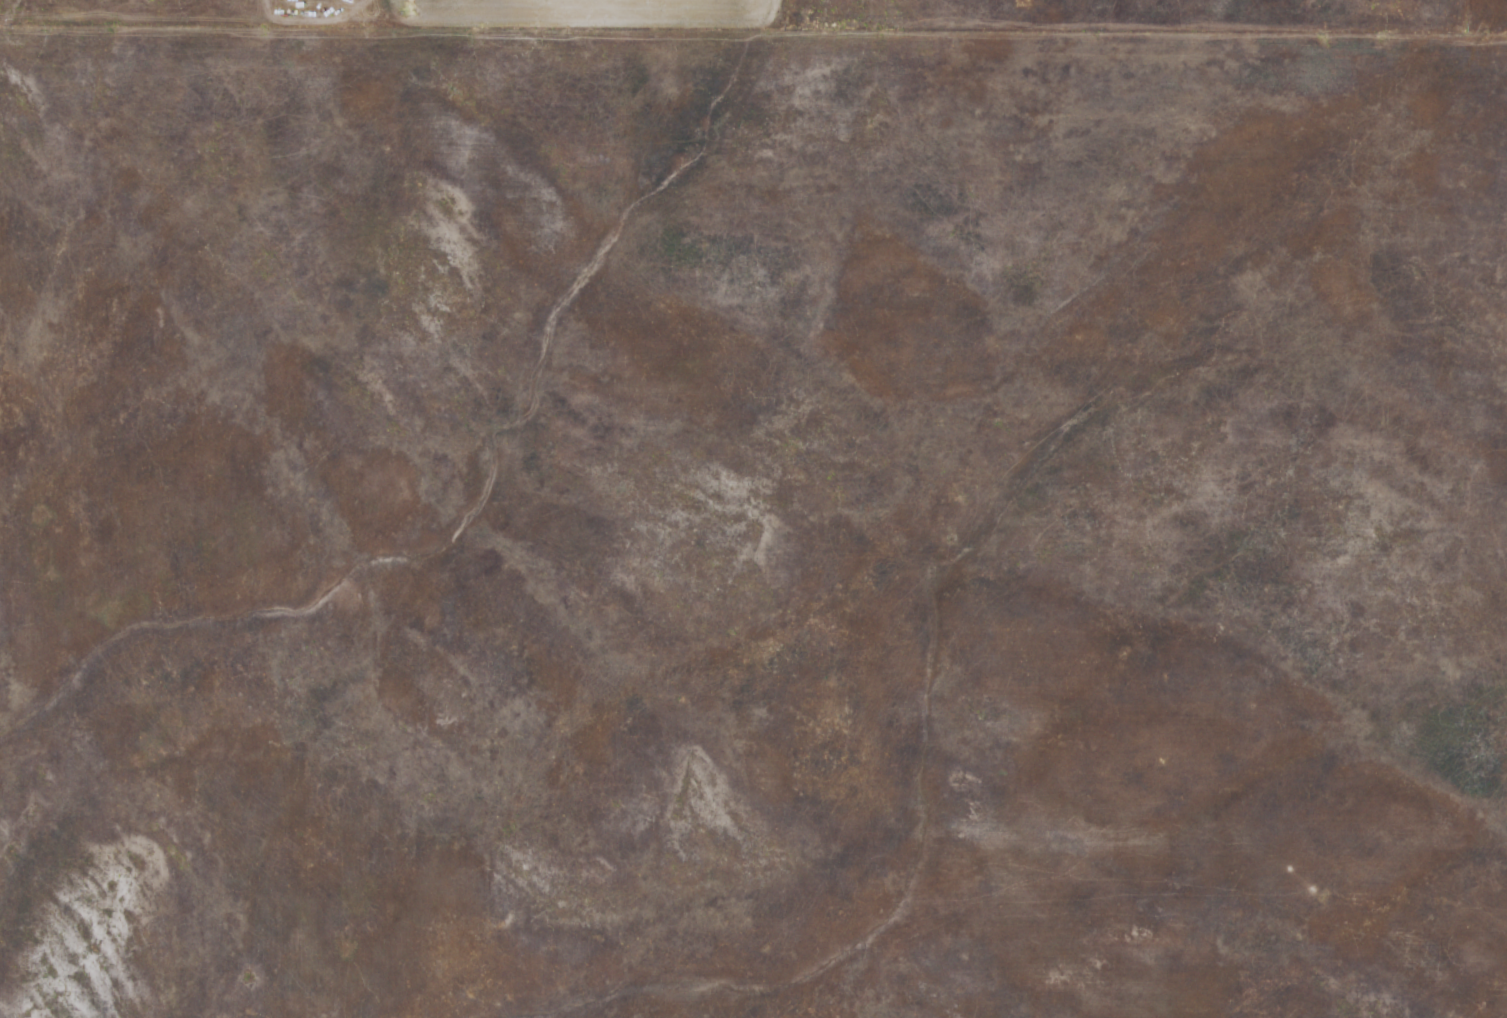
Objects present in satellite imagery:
solar farm: (1489, 540)

